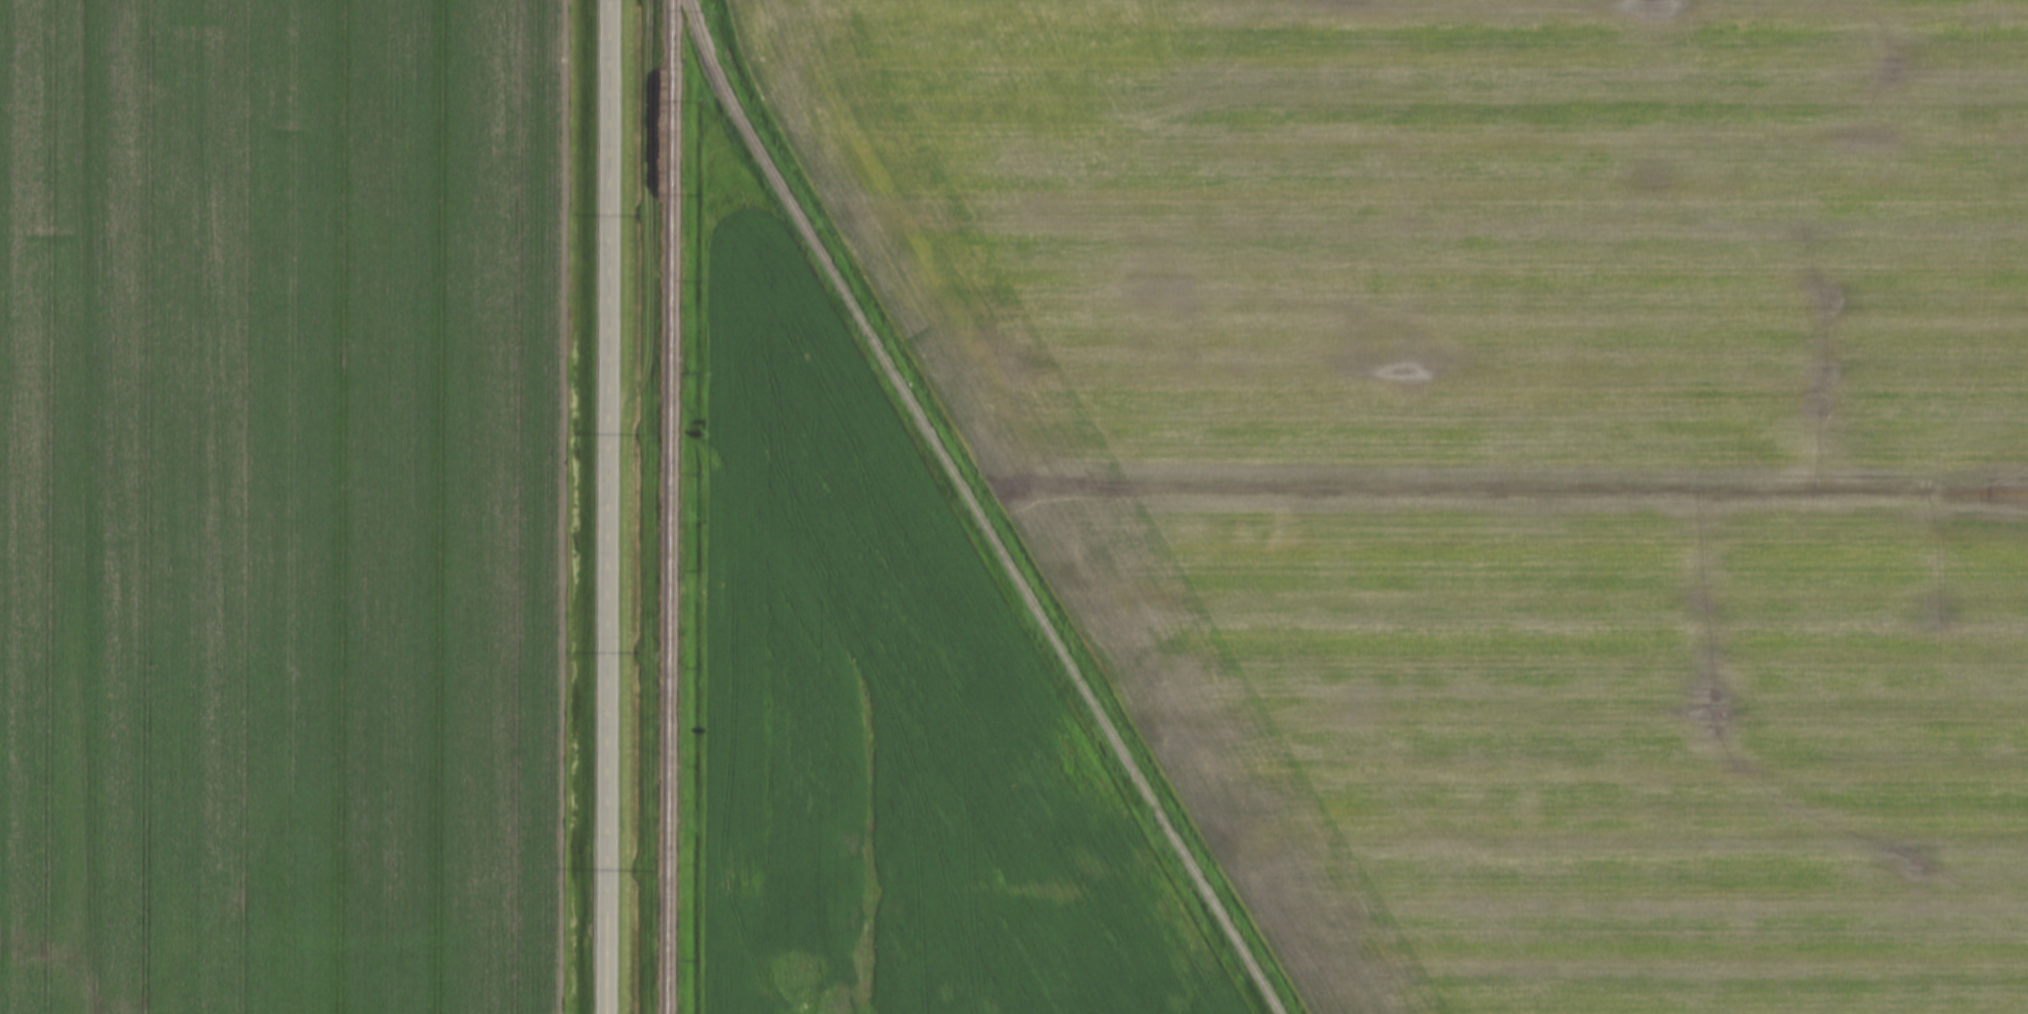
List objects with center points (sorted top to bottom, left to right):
railway: (709, 62)
road: (608, 507)
railway: (666, 507)
railway: (1010, 568)

